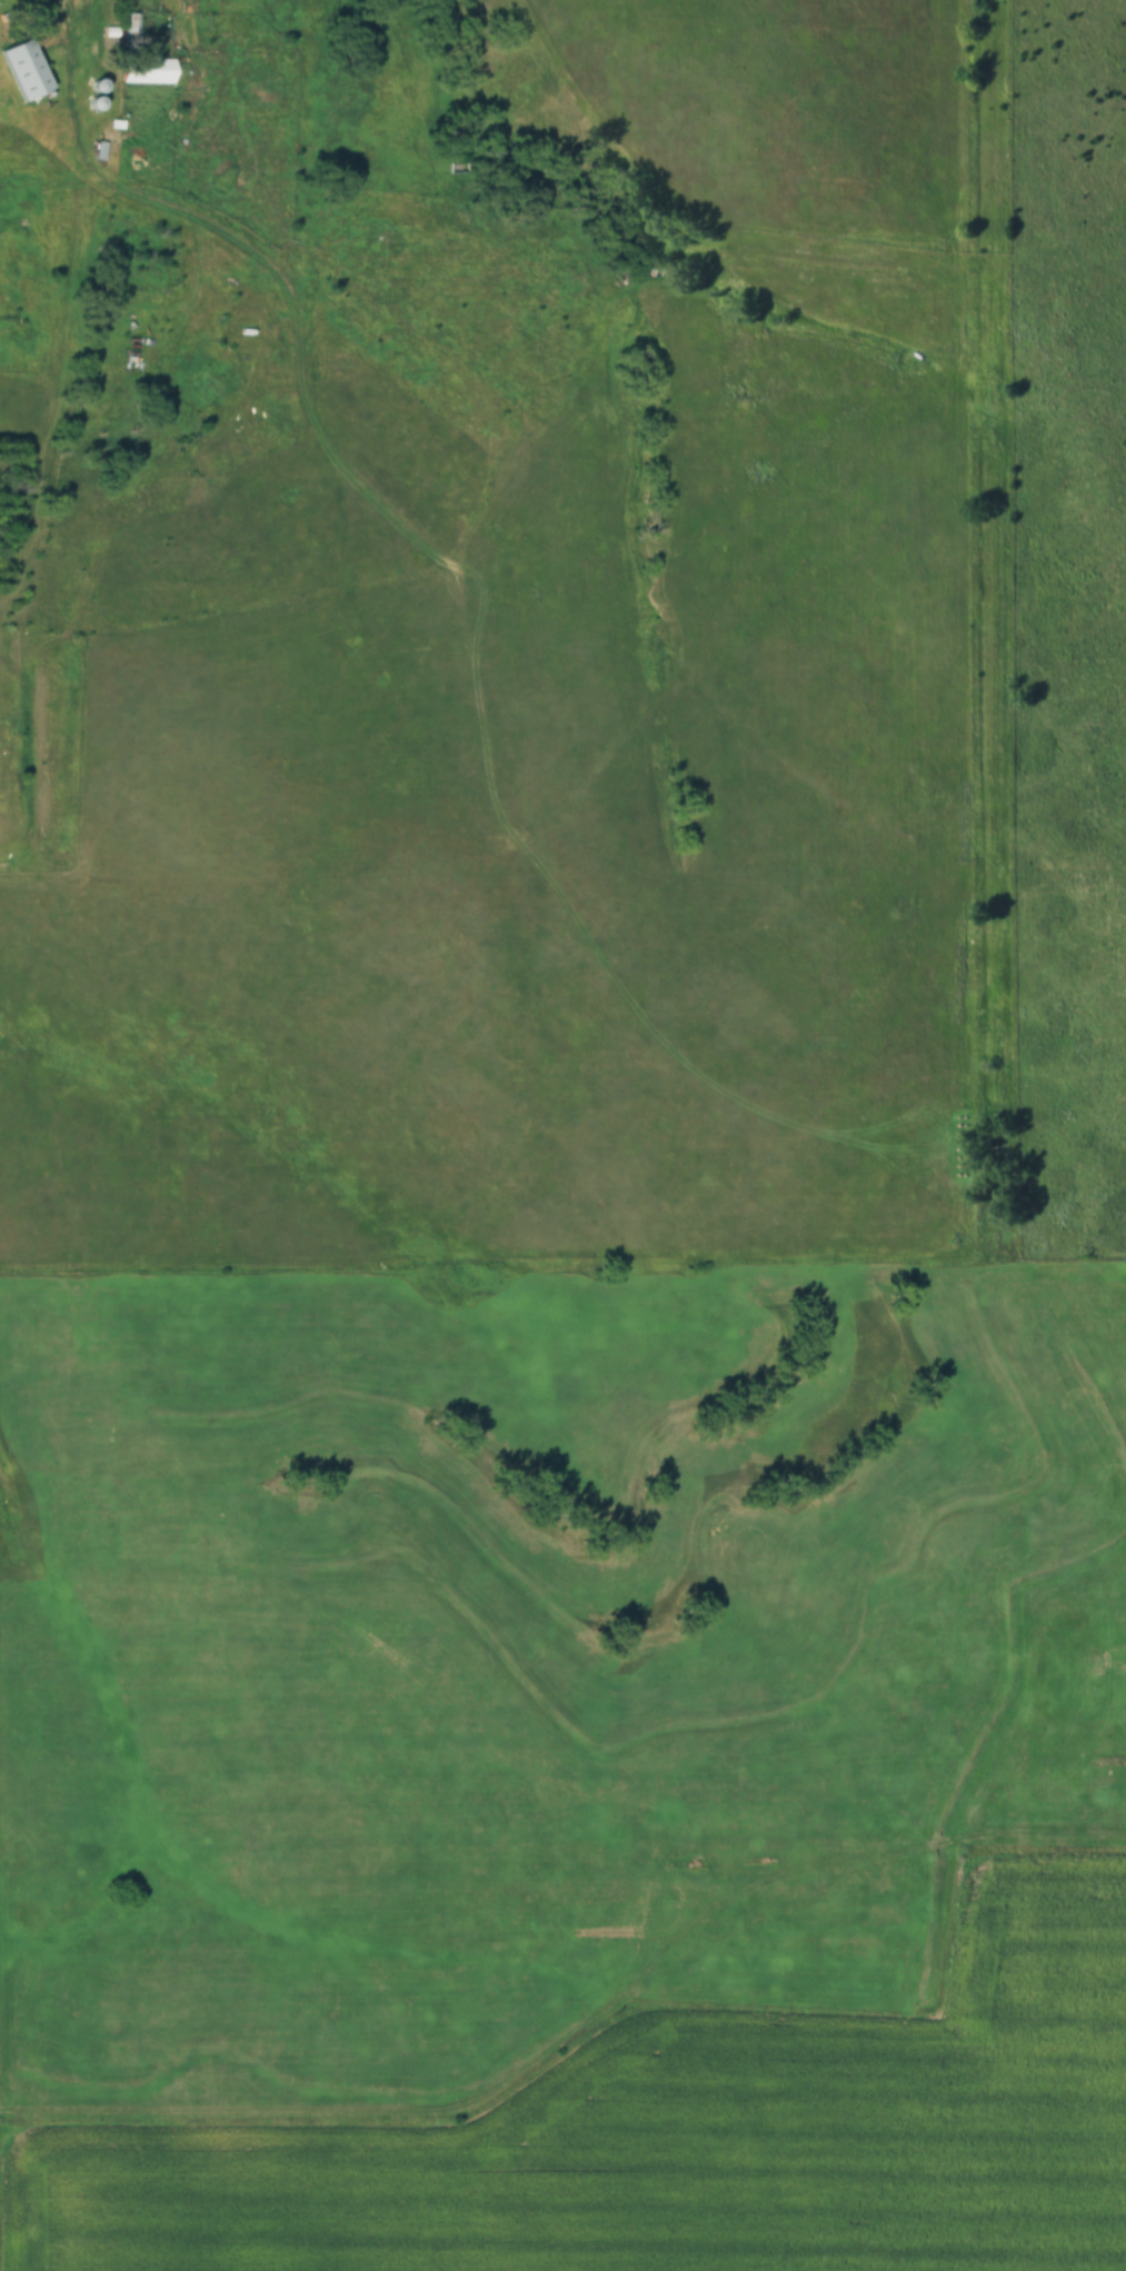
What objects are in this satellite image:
building: (130, 27)
building: (24, 68)
building: (148, 69)

